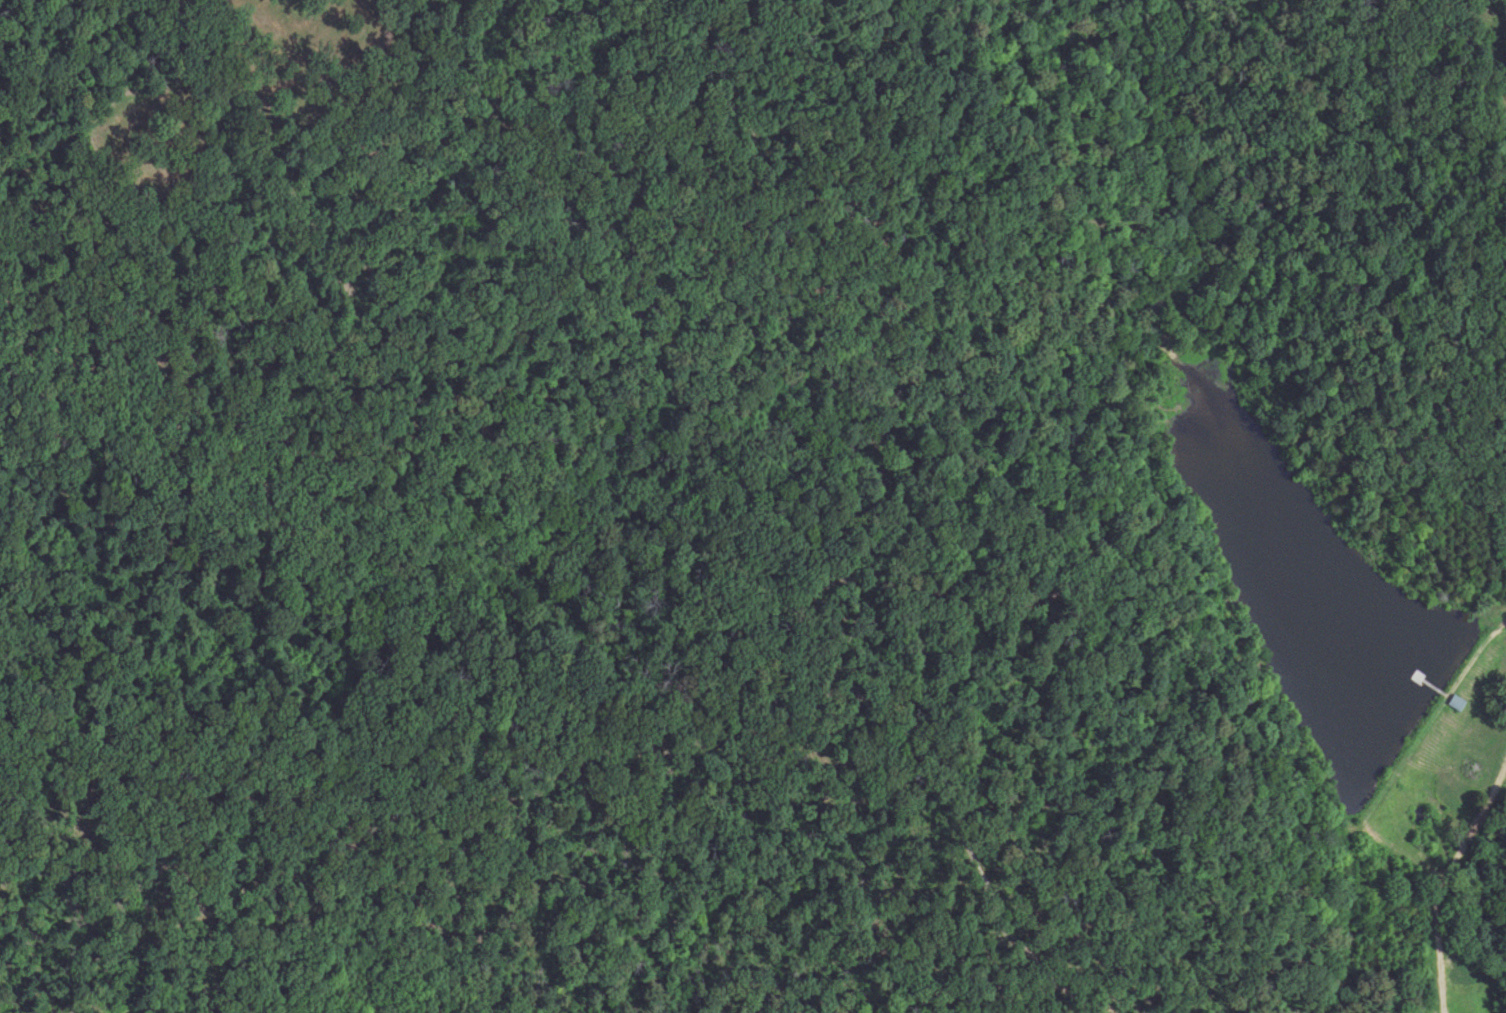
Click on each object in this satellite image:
building: (1447, 704)

